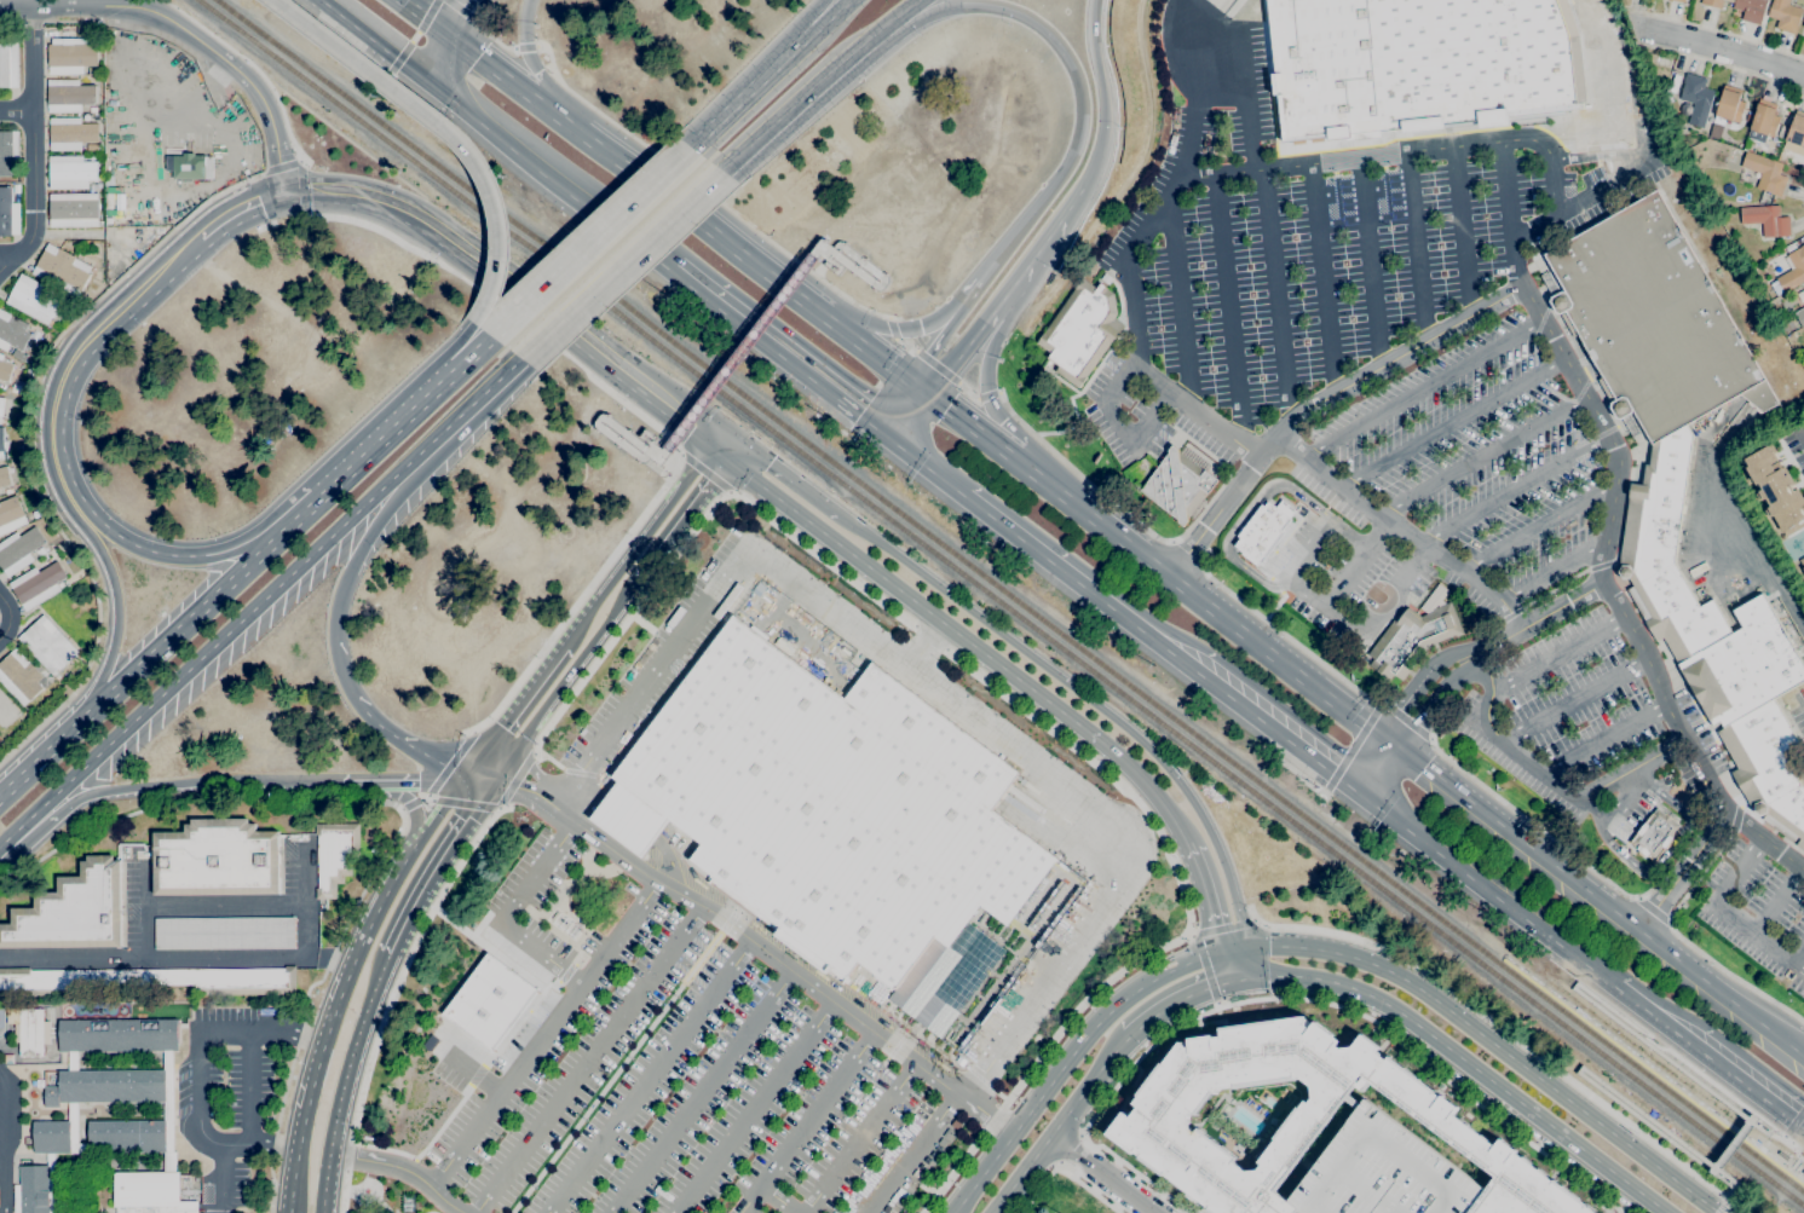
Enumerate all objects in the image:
building: (1679, 0)
building: (1714, 2)
road: (463, 10)
road: (907, 10)
building: (1751, 10)
road: (23, 11)
road: (44, 11)
road: (453, 11)
road: (423, 12)
building: (1785, 16)
road: (48, 23)
building: (1803, 23)
traffic signals: (440, 24)
road: (1208, 24)
road: (1716, 30)
building: (1802, 30)
road: (188, 33)
road: (795, 35)
road: (491, 39)
road: (374, 42)
road: (524, 47)
road: (1724, 48)
building: (71, 54)
road: (436, 54)
road: (34, 57)
road: (1704, 60)
road: (531, 63)
building: (8, 64)
road: (252, 65)
building: (1418, 65)
road: (767, 70)
road: (502, 73)
road: (1076, 79)
traffic signals: (432, 85)
road: (1102, 88)
road: (202, 91)
road: (1609, 92)
road: (806, 94)
building: (69, 96)
building: (1665, 96)
building: (1696, 98)
building: (1728, 106)
building: (1764, 119)
road: (449, 128)
building: (1796, 128)
building: (70, 133)
building: (8, 154)
road: (1585, 156)
building: (155, 164)
building: (190, 166)
road: (279, 166)
building: (70, 172)
building: (1765, 173)
road: (1217, 174)
road: (34, 178)
road: (551, 179)
road: (301, 187)
building: (16, 189)
traffic signals: (286, 190)
road: (705, 193)
road: (1585, 196)
building: (71, 209)
building: (8, 214)
road: (1511, 215)
road: (231, 216)
road: (703, 219)
building: (1766, 219)
road: (1051, 232)
road: (1463, 232)
road: (589, 242)
building: (1789, 247)
road: (1418, 249)
road: (824, 253)
road: (5, 254)
road: (619, 264)
road: (824, 264)
road: (826, 264)
road: (1372, 266)
building: (62, 270)
building: (1791, 272)
building: (1106, 278)
road: (877, 284)
road: (1324, 284)
road: (512, 288)
building: (1803, 289)
road: (1013, 290)
building: (34, 299)
road: (1279, 299)
road: (1178, 304)
road: (1229, 310)
building: (1799, 316)
road: (950, 319)
road: (924, 322)
traffic signals: (920, 325)
building: (12, 331)
building: (1082, 331)
road: (970, 343)
road: (880, 345)
road: (453, 346)
road: (742, 352)
road: (771, 353)
building: (19, 354)
building: (1803, 356)
road: (469, 357)
road: (67, 366)
road: (939, 366)
building: (5, 369)
traffic signals: (916, 372)
road: (926, 380)
road: (1577, 383)
traffic signals: (935, 388)
road: (1424, 391)
road: (894, 403)
parking lot: (1394, 409)
building: (1, 411)
road: (997, 412)
road: (459, 416)
road: (644, 417)
road: (913, 418)
road: (601, 420)
road: (1452, 422)
road: (1114, 424)
traffic signals: (872, 433)
road: (385, 438)
road: (882, 441)
road: (25, 443)
traffic signals: (717, 443)
building: (1, 444)
road: (668, 449)
road: (726, 449)
road: (661, 450)
traffic signals: (892, 450)
traffic signals: (736, 456)
road: (1482, 457)
road: (663, 469)
road: (703, 472)
road: (924, 473)
building: (1682, 474)
building: (4, 476)
road: (789, 478)
building: (1177, 485)
building: (1775, 485)
road: (1514, 490)
road: (731, 493)
road: (669, 504)
building: (11, 515)
road: (687, 516)
road: (1130, 518)
road: (1243, 518)
road: (293, 524)
road: (693, 530)
building: (1264, 530)
road: (1540, 530)
road: (1171, 542)
road: (234, 547)
road: (142, 548)
building: (18, 550)
building: (40, 550)
road: (1186, 555)
road: (1439, 560)
road: (1201, 565)
road: (1159, 567)
building: (1803, 568)
road: (1773, 577)
building: (36, 585)
building: (60, 585)
road: (345, 587)
road: (1298, 588)
railway: (1009, 596)
railway: (999, 603)
road: (592, 607)
road: (1379, 608)
road: (1509, 616)
road: (15, 619)
road: (1532, 620)
road: (114, 626)
road: (930, 637)
road: (1289, 637)
road: (169, 639)
building: (1412, 640)
road: (1157, 643)
building: (47, 645)
road: (923, 647)
road: (1555, 652)
road: (204, 655)
road: (649, 675)
building: (19, 677)
road: (564, 678)
road: (1009, 678)
road: (1413, 685)
road: (1080, 698)
road: (1573, 703)
road: (517, 706)
road: (1434, 706)
building: (6, 710)
traffic signals: (507, 720)
road: (1405, 721)
road: (1606, 738)
traffic signals: (1390, 740)
road: (411, 743)
road: (1351, 749)
road: (36, 762)
road: (1373, 766)
road: (531, 770)
road: (482, 774)
road: (442, 775)
road: (1549, 775)
road: (465, 776)
road: (1302, 778)
road: (514, 780)
traffic signals: (490, 782)
road: (409, 784)
road: (1057, 784)
road: (180, 785)
road: (473, 785)
traffic signals: (1356, 791)
road: (577, 799)
road: (407, 802)
road: (461, 803)
road: (1613, 808)
road: (399, 815)
traffic signals: (468, 816)
road: (629, 819)
road: (1734, 826)
road: (1535, 827)
building: (852, 828)
building: (1654, 833)
road: (417, 842)
road: (6, 843)
road: (1668, 848)
building: (334, 855)
building: (215, 859)
road: (664, 860)
road: (436, 865)
road: (1681, 871)
road: (1485, 889)
road: (1596, 897)
road: (1638, 897)
road: (223, 902)
road: (1777, 902)
parking lot: (1750, 903)
building: (71, 911)
road: (1653, 911)
road: (501, 913)
road: (1728, 915)
road: (1252, 918)
road: (1668, 923)
traffic signals: (1209, 925)
road: (1186, 931)
building: (224, 932)
road: (1188, 934)
road: (1192, 940)
traffic signals: (1268, 943)
road: (1688, 943)
road: (756, 946)
road: (1229, 948)
road: (175, 957)
railway: (1502, 959)
road: (1238, 963)
road: (1223, 966)
building: (150, 981)
traffic signals: (1205, 990)
road: (390, 997)
road: (1289, 998)
road: (1175, 1000)
building: (488, 1001)
road: (1216, 1005)
track: (0, 1020)
road: (1497, 1023)
road: (1626, 1028)
building: (29, 1029)
road: (260, 1029)
building: (116, 1035)
road: (543, 1035)
road: (1492, 1045)
road: (316, 1049)
road: (353, 1051)
road: (1708, 1057)
building: (8, 1058)
road: (588, 1059)
road: (1462, 1059)
building: (71, 1061)
road: (1066, 1061)
road: (1579, 1069)
road: (468, 1070)
parking lot: (679, 1072)
road: (647, 1076)
road: (1708, 1081)
building: (105, 1086)
road: (254, 1087)
road: (699, 1092)
road: (751, 1108)
building: (168, 1113)
building: (1249, 1117)
building: (1302, 1117)
road: (1793, 1122)
road: (806, 1124)
road: (1061, 1124)
road: (198, 1128)
building: (74, 1130)
building: (126, 1136)
road: (1773, 1136)
building: (51, 1137)
road: (858, 1137)
road: (1782, 1137)
road: (6, 1142)
road: (1788, 1143)
road: (1733, 1145)
road: (1066, 1148)
road: (911, 1153)
road: (1794, 1163)
road: (400, 1169)
road: (1064, 1171)
parking lot: (1382, 1172)
road: (1105, 1173)
road: (224, 1179)
building: (51, 1182)
road: (325, 1183)
road: (1735, 1183)
road: (1727, 1184)
building: (31, 1190)
building: (150, 1192)
road: (368, 1194)
park: (1068, 1194)
road: (777, 1200)
road: (1721, 1207)
road: (287, 1212)

